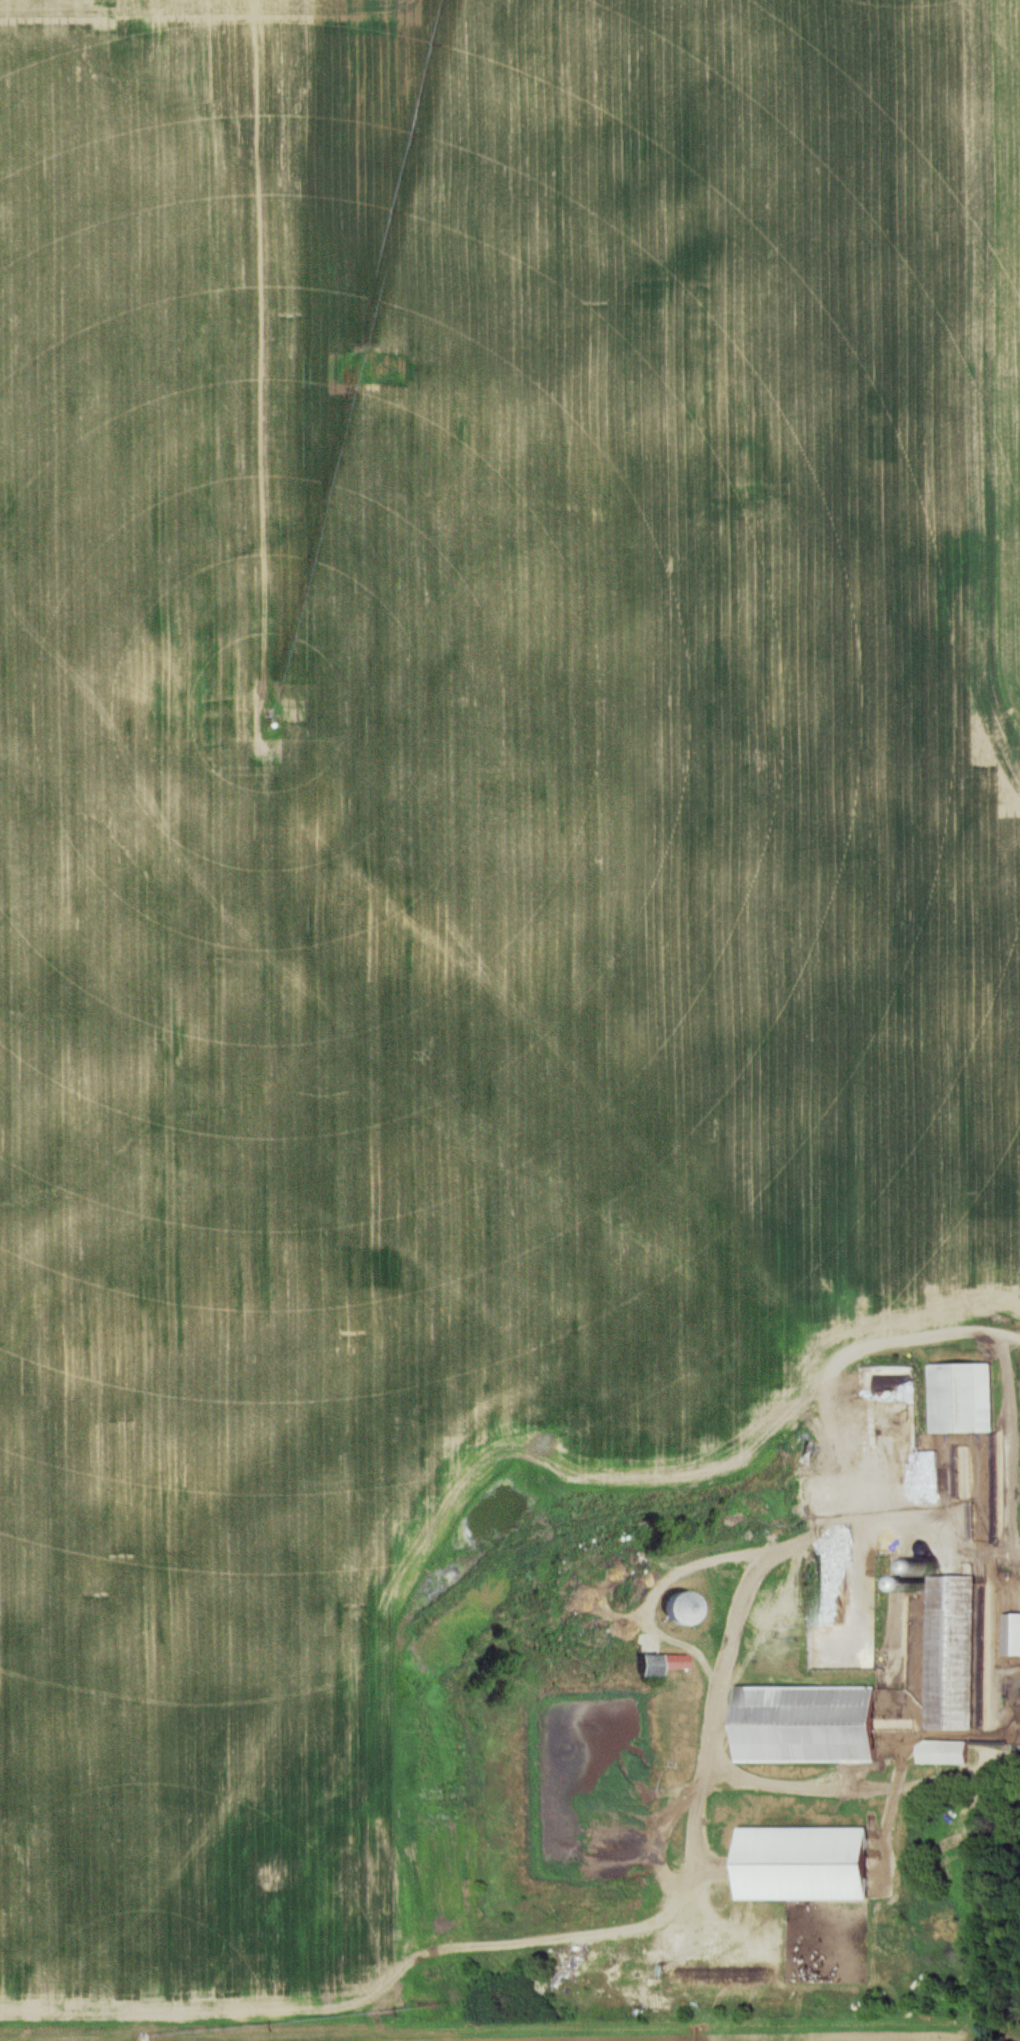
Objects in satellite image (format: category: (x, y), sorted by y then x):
building: (962, 1399)
road: (825, 1427)
building: (678, 1609)
building: (1012, 1635)
building: (951, 1653)
building: (658, 1664)
building: (806, 1725)
building: (945, 1752)
building: (839, 1902)

